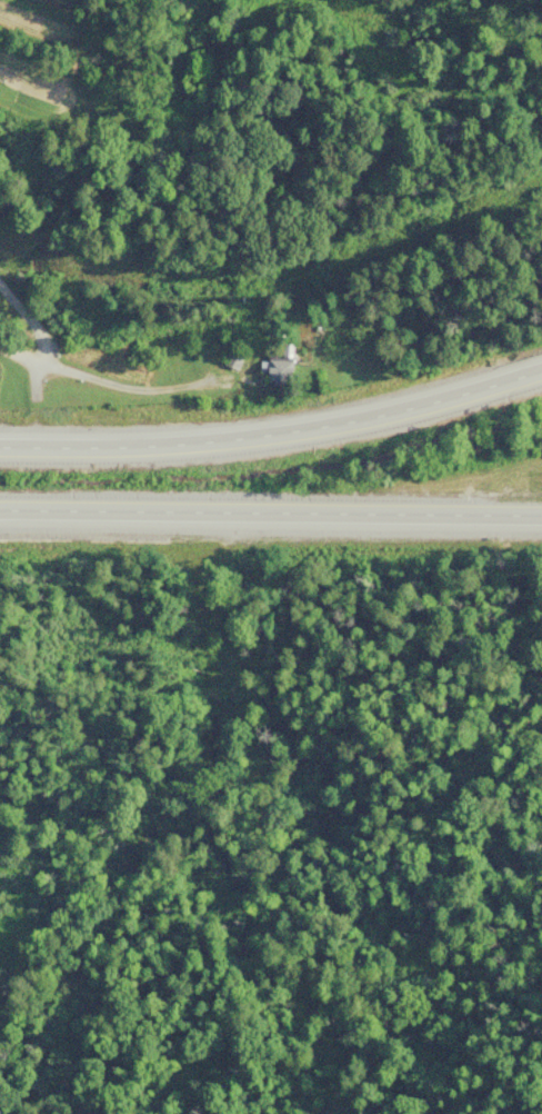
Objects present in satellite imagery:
road: (37, 334)
building: (271, 370)
road: (274, 431)
road: (271, 510)

